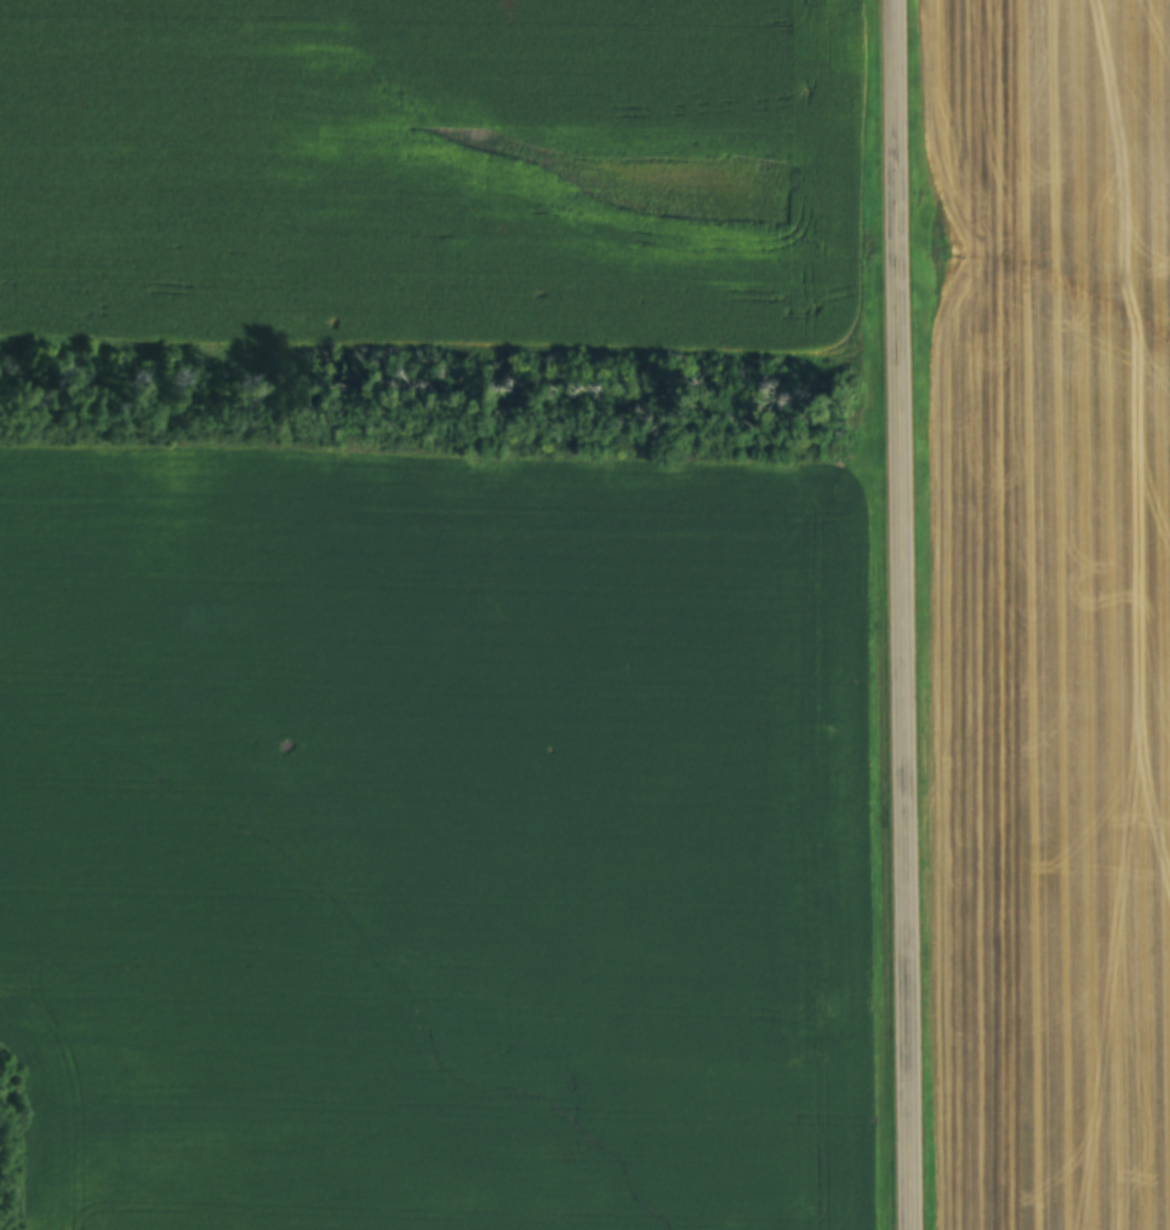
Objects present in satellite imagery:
road: (911, 614)

